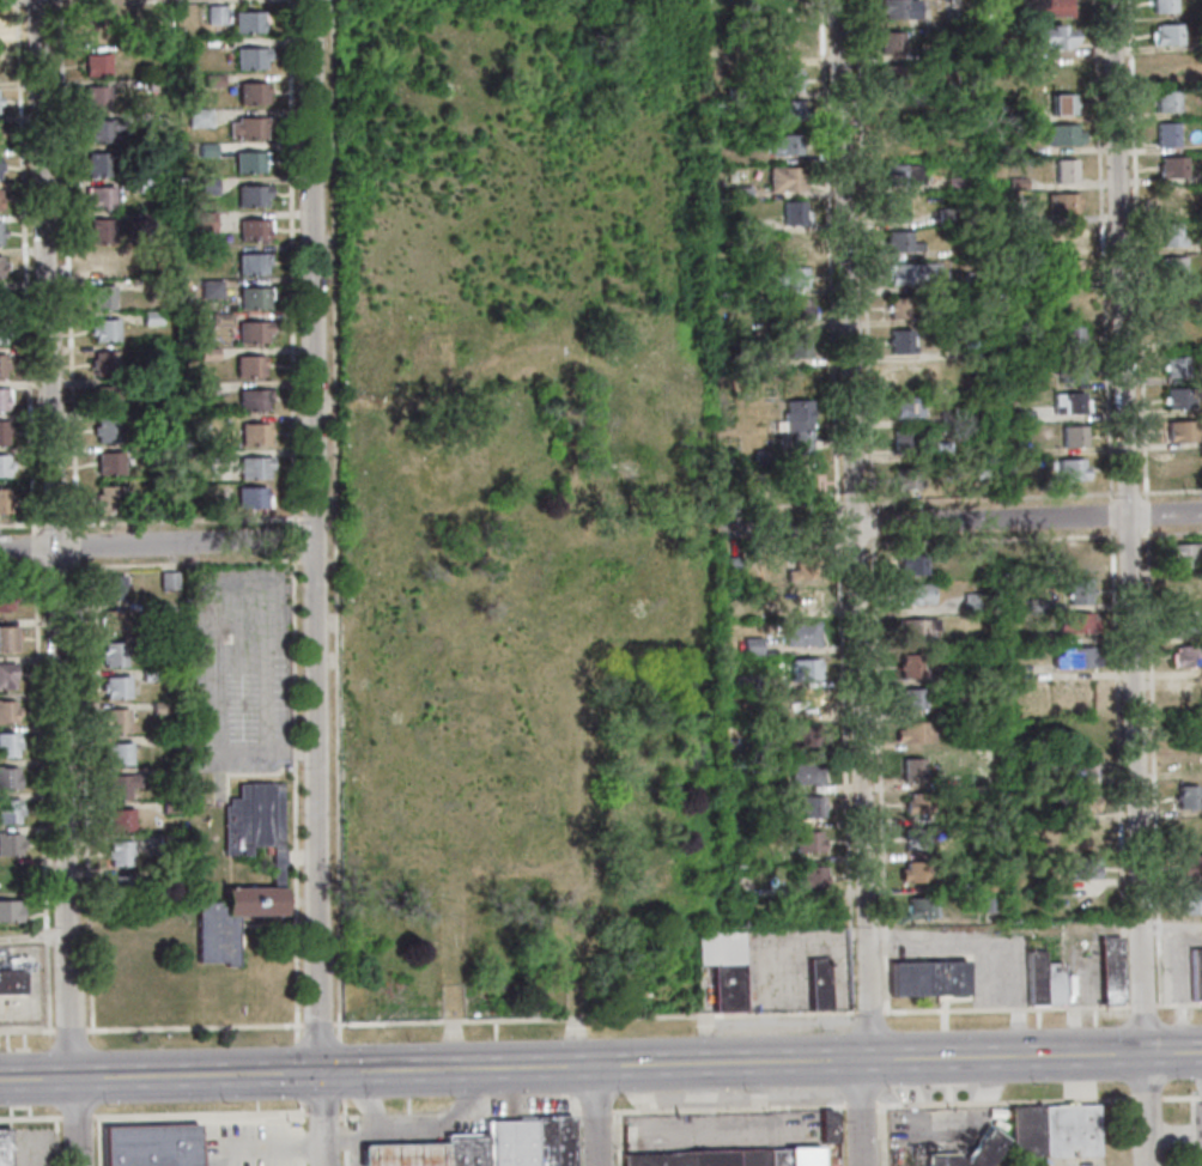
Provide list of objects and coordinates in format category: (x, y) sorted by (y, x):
road: (105, 1)
building: (987, 5)
building: (1161, 6)
building: (1052, 8)
building: (898, 10)
building: (783, 11)
building: (215, 14)
building: (248, 23)
building: (1166, 34)
building: (1048, 38)
building: (890, 43)
building: (988, 44)
building: (784, 45)
building: (251, 59)
building: (97, 66)
building: (1172, 67)
building: (1200, 77)
building: (891, 78)
building: (212, 80)
building: (787, 80)
building: (156, 85)
building: (736, 92)
building: (251, 95)
building: (96, 99)
building: (0, 101)
building: (1164, 102)
building: (1060, 104)
building: (788, 110)
building: (1024, 117)
building: (199, 119)
building: (248, 129)
building: (102, 130)
building: (0, 134)
building: (1165, 134)
building: (1061, 136)
building: (900, 140)
building: (784, 144)
building: (207, 150)
building: (1007, 151)
building: (249, 163)
building: (97, 165)
building: (1170, 166)
building: (0, 168)
building: (1063, 171)
building: (900, 175)
building: (1201, 177)
building: (785, 180)
building: (952, 183)
building: (1014, 183)
building: (145, 186)
building: (207, 187)
building: (740, 194)
building: (251, 196)
building: (99, 198)
building: (0, 199)
building: (1060, 204)
building: (894, 209)
building: (794, 214)
building: (145, 217)
building: (943, 217)
building: (205, 223)
building: (742, 226)
building: (188, 230)
building: (99, 231)
building: (254, 231)
building: (1, 233)
building: (1168, 236)
building: (1064, 237)
building: (899, 242)
building: (795, 245)
building: (1200, 245)
building: (1031, 249)
road: (1134, 249)
road: (1099, 250)
road: (826, 255)
road: (862, 255)
road: (291, 262)
building: (104, 263)
building: (251, 265)
road: (23, 266)
road: (66, 266)
building: (1, 267)
building: (1170, 267)
building: (1062, 269)
building: (907, 274)
building: (787, 278)
building: (970, 281)
building: (213, 289)
building: (102, 298)
building: (253, 299)
building: (1, 302)
building: (898, 308)
building: (796, 311)
building: (151, 318)
building: (220, 320)
building: (103, 330)
building: (1173, 332)
building: (253, 333)
building: (1, 334)
building: (1067, 335)
building: (899, 341)
building: (796, 345)
building: (966, 348)
building: (1000, 350)
building: (207, 354)
building: (103, 364)
building: (2, 366)
building: (1173, 366)
building: (249, 368)
building: (1067, 370)
building: (905, 375)
building: (205, 388)
building: (4, 397)
building: (107, 397)
building: (1177, 397)
building: (251, 401)
building: (1068, 402)
building: (905, 406)
building: (1020, 415)
building: (150, 418)
building: (946, 418)
building: (797, 424)
building: (1178, 430)
building: (4, 431)
building: (105, 431)
building: (254, 435)
building: (787, 436)
building: (1070, 436)
building: (901, 441)
building: (1000, 449)
building: (156, 451)
building: (218, 456)
building: (759, 457)
building: (4, 464)
building: (109, 464)
building: (1182, 466)
building: (254, 468)
building: (978, 469)
building: (1002, 469)
building: (1069, 469)
building: (905, 478)
building: (799, 481)
road: (1168, 491)
road: (1124, 492)
road: (988, 497)
building: (251, 498)
building: (109, 499)
building: (4, 502)
road: (852, 503)
road: (781, 504)
road: (1143, 514)
road: (1107, 515)
road: (334, 518)
road: (183, 521)
road: (312, 521)
road: (961, 521)
road: (836, 523)
road: (19, 524)
road: (54, 524)
road: (869, 524)
road: (330, 526)
road: (1170, 533)
road: (1125, 534)
road: (292, 540)
road: (989, 540)
road: (75, 543)
road: (32, 545)
road: (157, 545)
road: (854, 546)
road: (802, 547)
building: (729, 549)
building: (1180, 554)
road: (171, 557)
building: (1069, 558)
road: (296, 560)
road: (314, 560)
road: (330, 560)
building: (910, 564)
road: (119, 565)
road: (20, 567)
road: (55, 567)
building: (731, 567)
building: (801, 569)
building: (168, 579)
road: (55, 583)
road: (314, 583)
road: (857, 583)
road: (1128, 583)
building: (1182, 587)
building: (110, 588)
building: (1076, 591)
building: (912, 595)
building: (801, 596)
building: (5, 597)
building: (970, 597)
building: (1036, 605)
building: (970, 607)
building: (151, 608)
building: (114, 621)
building: (1182, 621)
building: (1073, 623)
building: (916, 627)
building: (801, 634)
building: (5, 639)
building: (1036, 640)
building: (971, 642)
building: (151, 643)
building: (751, 645)
building: (113, 656)
building: (1185, 656)
building: (1072, 658)
building: (909, 667)
building: (802, 669)
parking lot: (239, 670)
building: (151, 675)
building: (6, 676)
building: (952, 676)
building: (739, 682)
building: (757, 682)
building: (115, 687)
building: (1189, 696)
road: (241, 699)
building: (911, 699)
building: (803, 703)
building: (160, 709)
building: (7, 711)
building: (754, 717)
building: (115, 722)
building: (913, 734)
building: (808, 735)
building: (169, 742)
building: (7, 746)
road: (230, 751)
building: (117, 754)
building: (1079, 766)
road: (1152, 766)
road: (1116, 767)
street lamp: (300, 769)
building: (912, 770)
building: (805, 772)
road: (844, 773)
building: (170, 775)
road: (879, 775)
road: (217, 776)
building: (7, 778)
building: (120, 787)
road: (84, 791)
road: (41, 794)
road: (293, 797)
building: (1186, 797)
building: (1081, 798)
building: (917, 803)
building: (170, 807)
building: (809, 807)
building: (8, 813)
building: (120, 819)
building: (1081, 832)
building: (916, 838)
building: (807, 842)
building: (10, 844)
building: (168, 844)
building: (119, 854)
building: (1191, 866)
building: (1081, 868)
building: (918, 872)
building: (811, 875)
building: (10, 876)
building: (275, 877)
building: (987, 880)
building: (122, 886)
building: (1190, 900)
building: (989, 901)
building: (921, 906)
building: (8, 912)
road: (1170, 927)
road: (32, 935)
road: (995, 946)
building: (17, 962)
building: (722, 968)
building: (1110, 970)
building: (1196, 974)
building: (927, 978)
building: (1034, 978)
building: (11, 983)
building: (1052, 984)
building: (818, 985)
road: (1179, 989)
road: (1142, 1006)
road: (1178, 1006)
road: (1006, 1008)
road: (869, 1012)
road: (594, 1018)
road: (316, 1024)
road: (193, 1026)
road: (71, 1028)
road: (28, 1030)
road: (600, 1065)
road: (339, 1068)
road: (297, 1071)
traffic signals: (321, 1074)
road: (1183, 1097)
road: (1147, 1098)
road: (1004, 1100)
road: (862, 1104)
road: (728, 1109)
building: (996, 1111)
road: (532, 1112)
road: (595, 1112)
road: (198, 1113)
road: (320, 1113)
road: (463, 1113)
road: (414, 1115)
road: (347, 1116)
road: (372, 1116)
road: (595, 1116)
road: (75, 1117)
road: (30, 1118)
building: (996, 1123)
building: (828, 1125)
parking lot: (723, 1126)
road: (411, 1128)
building: (1051, 1129)
road: (1174, 1131)
road: (342, 1132)
road: (1101, 1132)
road: (299, 1134)
road: (884, 1134)
road: (348, 1135)
road: (839, 1135)
road: (573, 1138)
road: (617, 1138)
road: (96, 1141)
building: (553, 1141)
road: (54, 1142)
building: (510, 1142)
parking lot: (247, 1143)
building: (146, 1144)
road: (262, 1146)
building: (2, 1147)
parking lot: (28, 1147)
road: (25, 1148)
building: (462, 1148)
building: (897, 1149)
building: (969, 1149)
road: (352, 1150)
building: (403, 1154)
building: (728, 1156)
building: (897, 1159)

